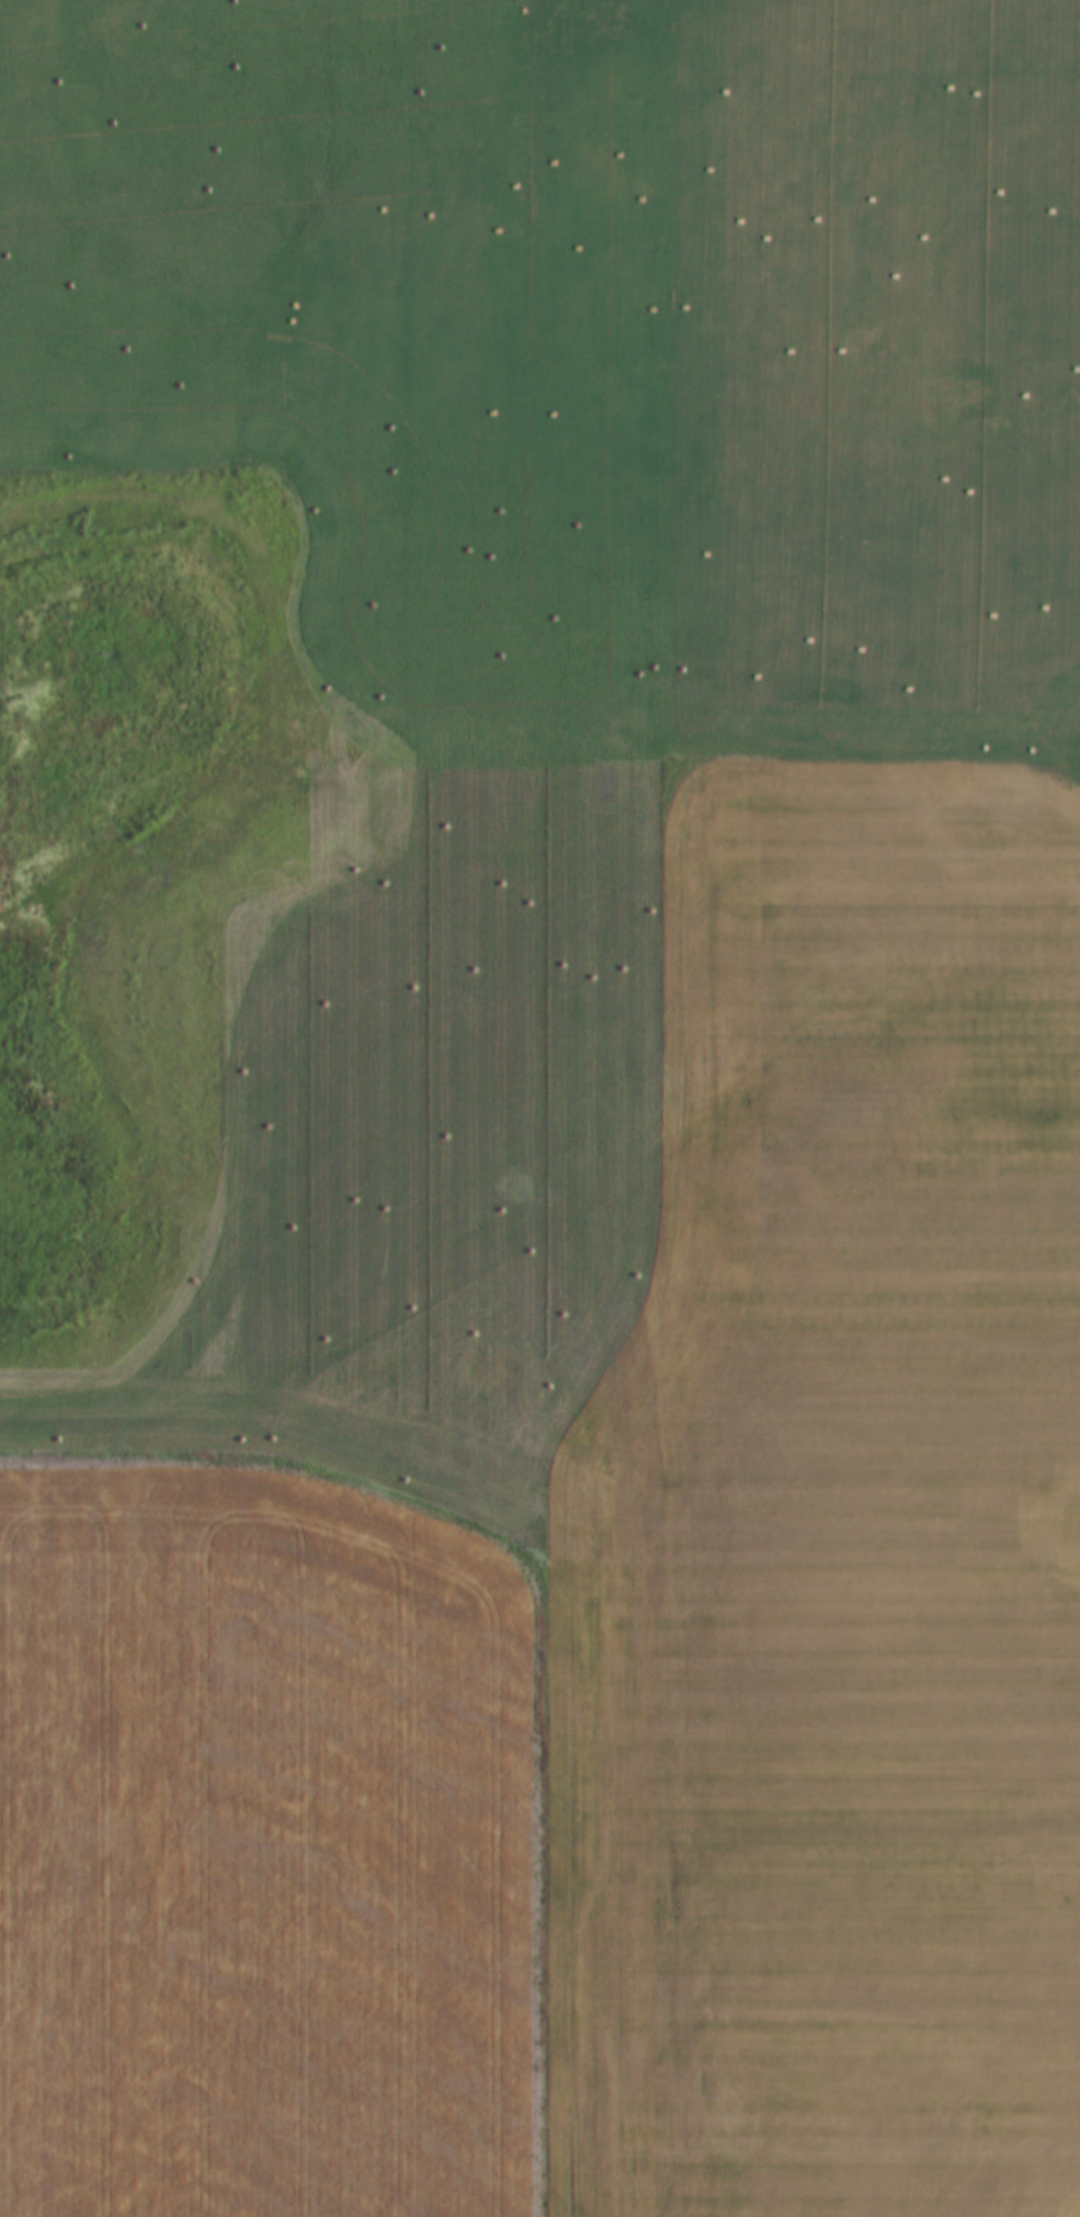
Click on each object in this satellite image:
quarry: (744, 971)
road: (603, 1499)

